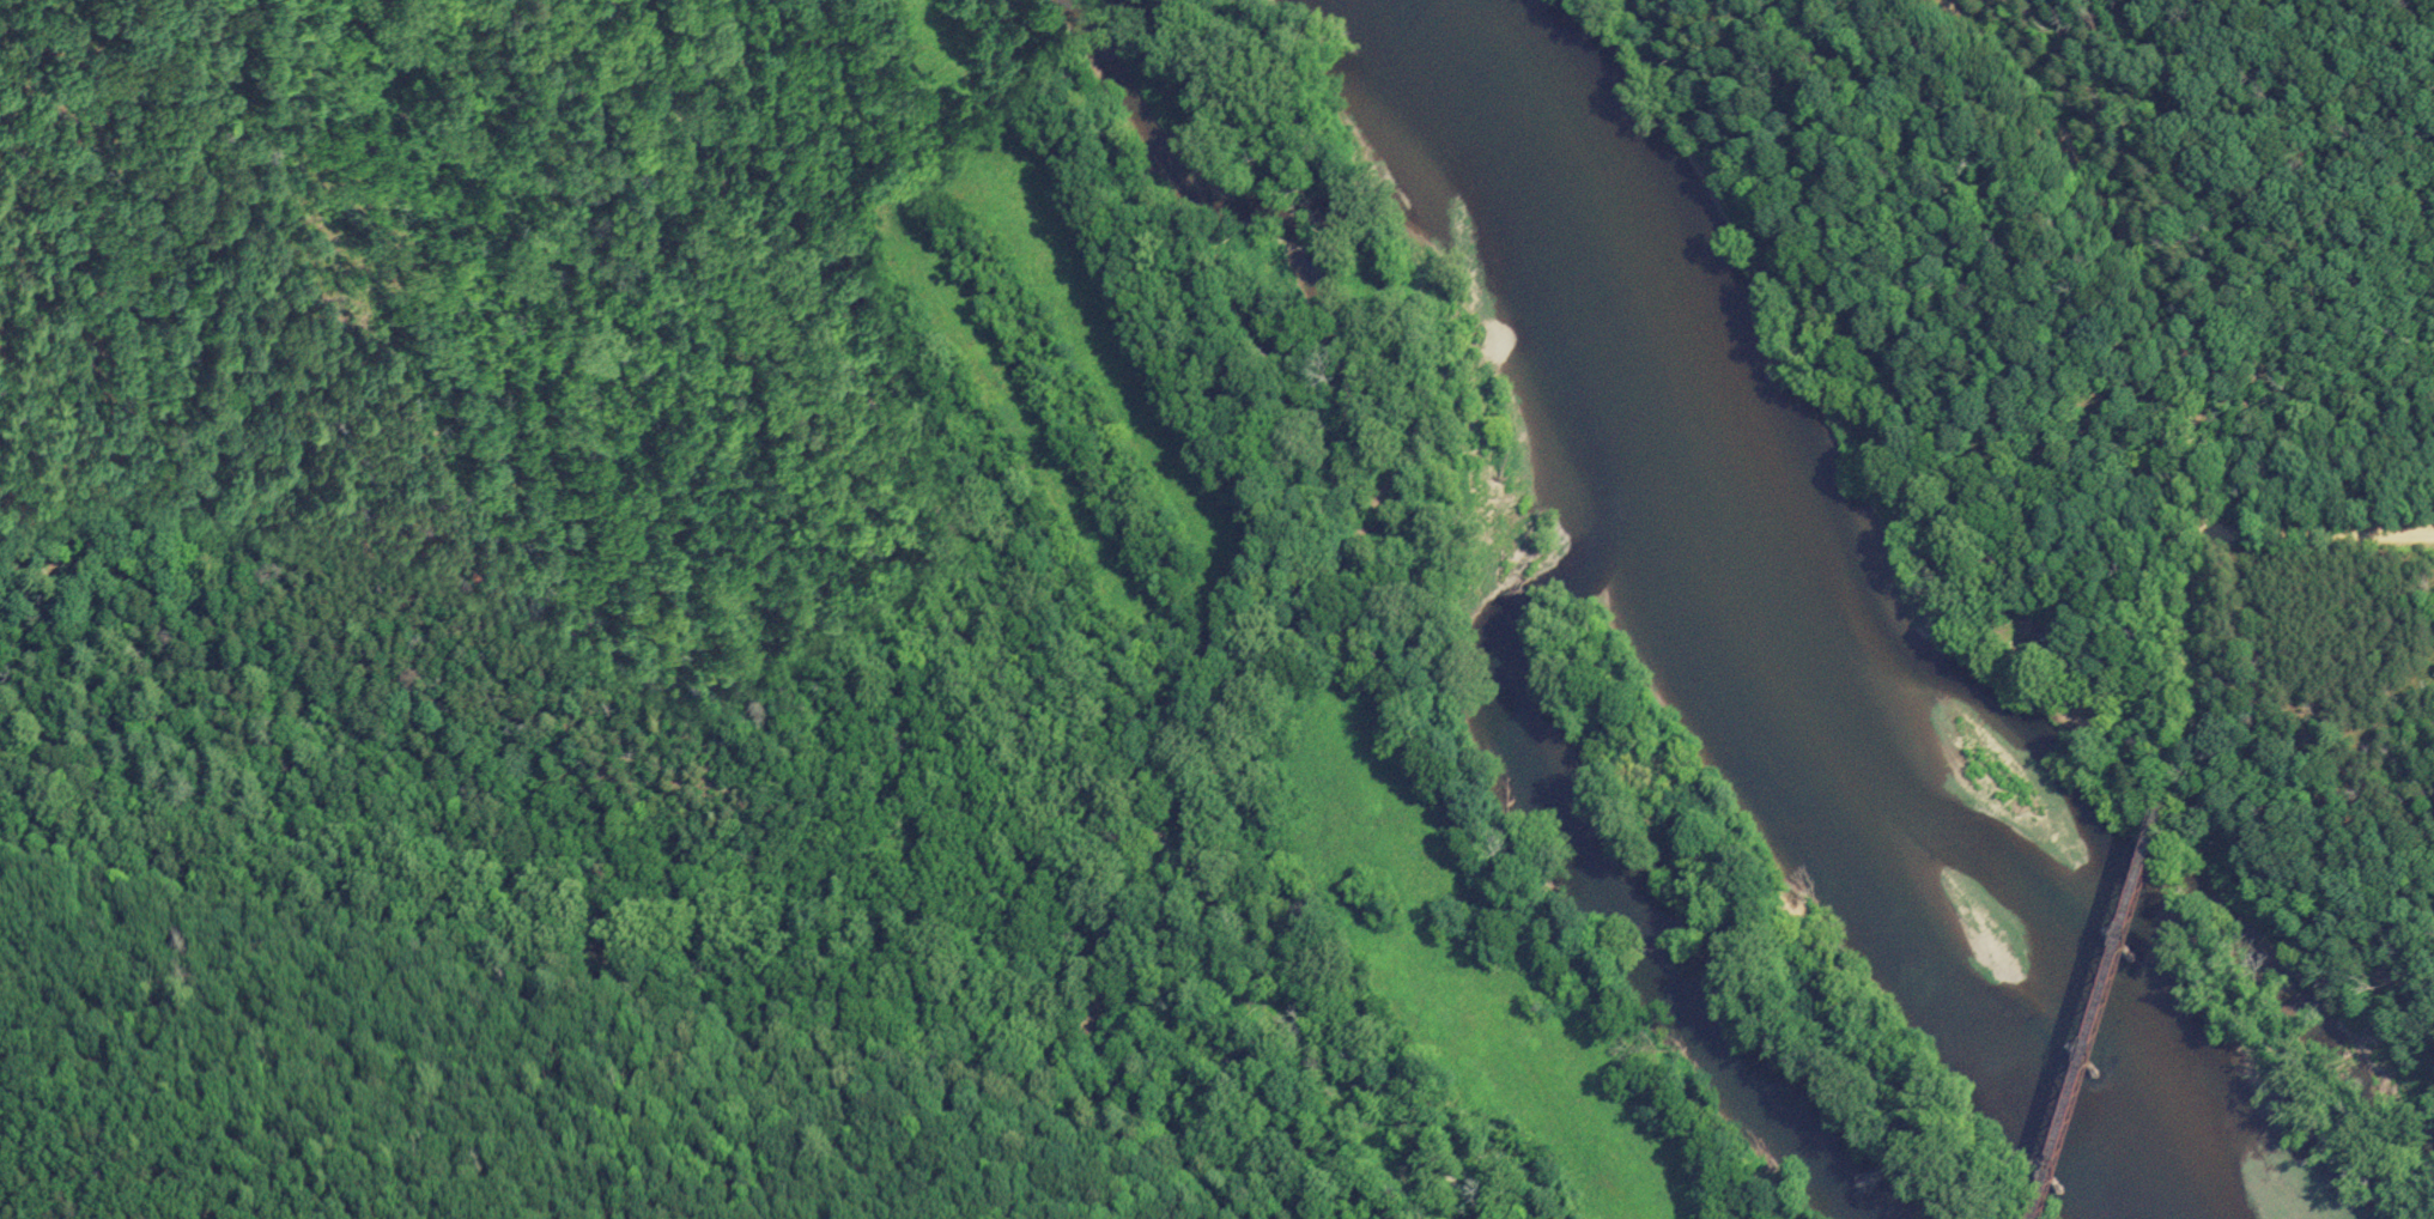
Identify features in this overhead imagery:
road: (2118, 237)
road: (2317, 538)
river: (1780, 624)
road: (1015, 631)

